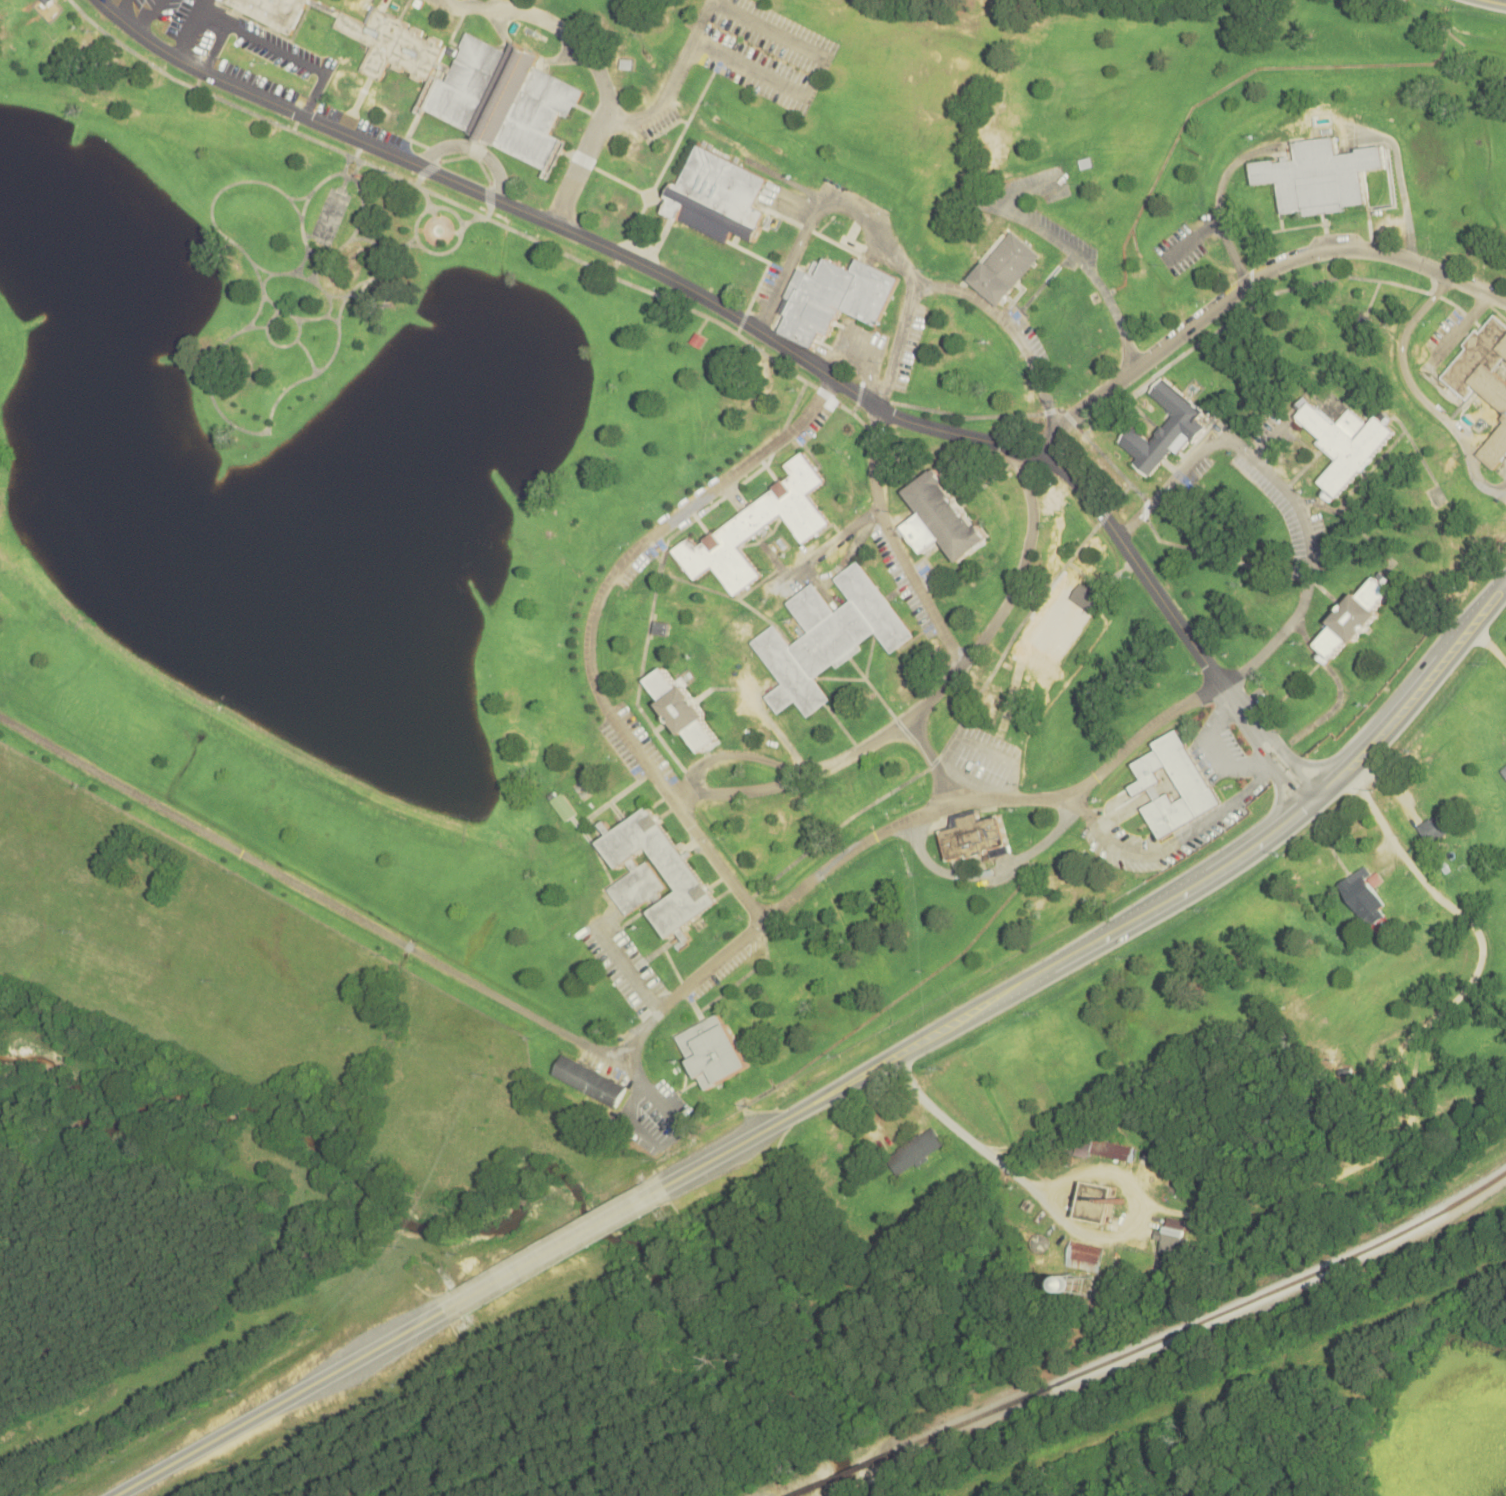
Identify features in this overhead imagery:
road: (1502, 0)
road: (445, 1)
building: (272, 11)
road: (550, 23)
road: (761, 25)
road: (144, 37)
building: (506, 99)
road: (580, 164)
building: (1320, 177)
road: (452, 179)
road: (1399, 181)
road: (1025, 191)
building: (718, 197)
road: (1218, 200)
road: (819, 210)
road: (1044, 232)
road: (1191, 240)
building: (1005, 268)
road: (1247, 284)
road: (960, 290)
building: (832, 298)
road: (1117, 320)
building: (1364, 323)
road: (1460, 329)
building: (698, 340)
building: (1482, 380)
road: (1417, 393)
building: (1166, 431)
building: (1346, 444)
road: (1031, 454)
road: (1505, 488)
building: (942, 520)
building: (757, 528)
road: (895, 543)
building: (1086, 597)
building: (1355, 618)
building: (661, 628)
building: (829, 638)
road: (1339, 684)
road: (1414, 695)
building: (682, 709)
dam: (231, 710)
road: (1222, 754)
road: (1289, 757)
road: (932, 760)
road: (1322, 761)
road: (1110, 762)
road: (1277, 767)
building: (1503, 770)
building: (1193, 782)
road: (680, 794)
road: (1312, 796)
road: (1278, 805)
building: (565, 808)
building: (1437, 827)
building: (976, 839)
road: (1168, 846)
road: (717, 861)
building: (685, 879)
building: (637, 887)
road: (1187, 890)
building: (1365, 895)
road: (348, 913)
road: (627, 967)
road: (927, 1036)
building: (714, 1051)
building: (590, 1080)
road: (1406, 1110)
road: (961, 1131)
road: (735, 1146)
building: (1107, 1150)
building: (916, 1152)
building: (1097, 1202)
river: (512, 1218)
building: (1173, 1237)
road: (556, 1248)
building: (1086, 1256)
railway: (1206, 1320)
road: (362, 1356)
road: (194, 1449)
railway: (844, 1473)

